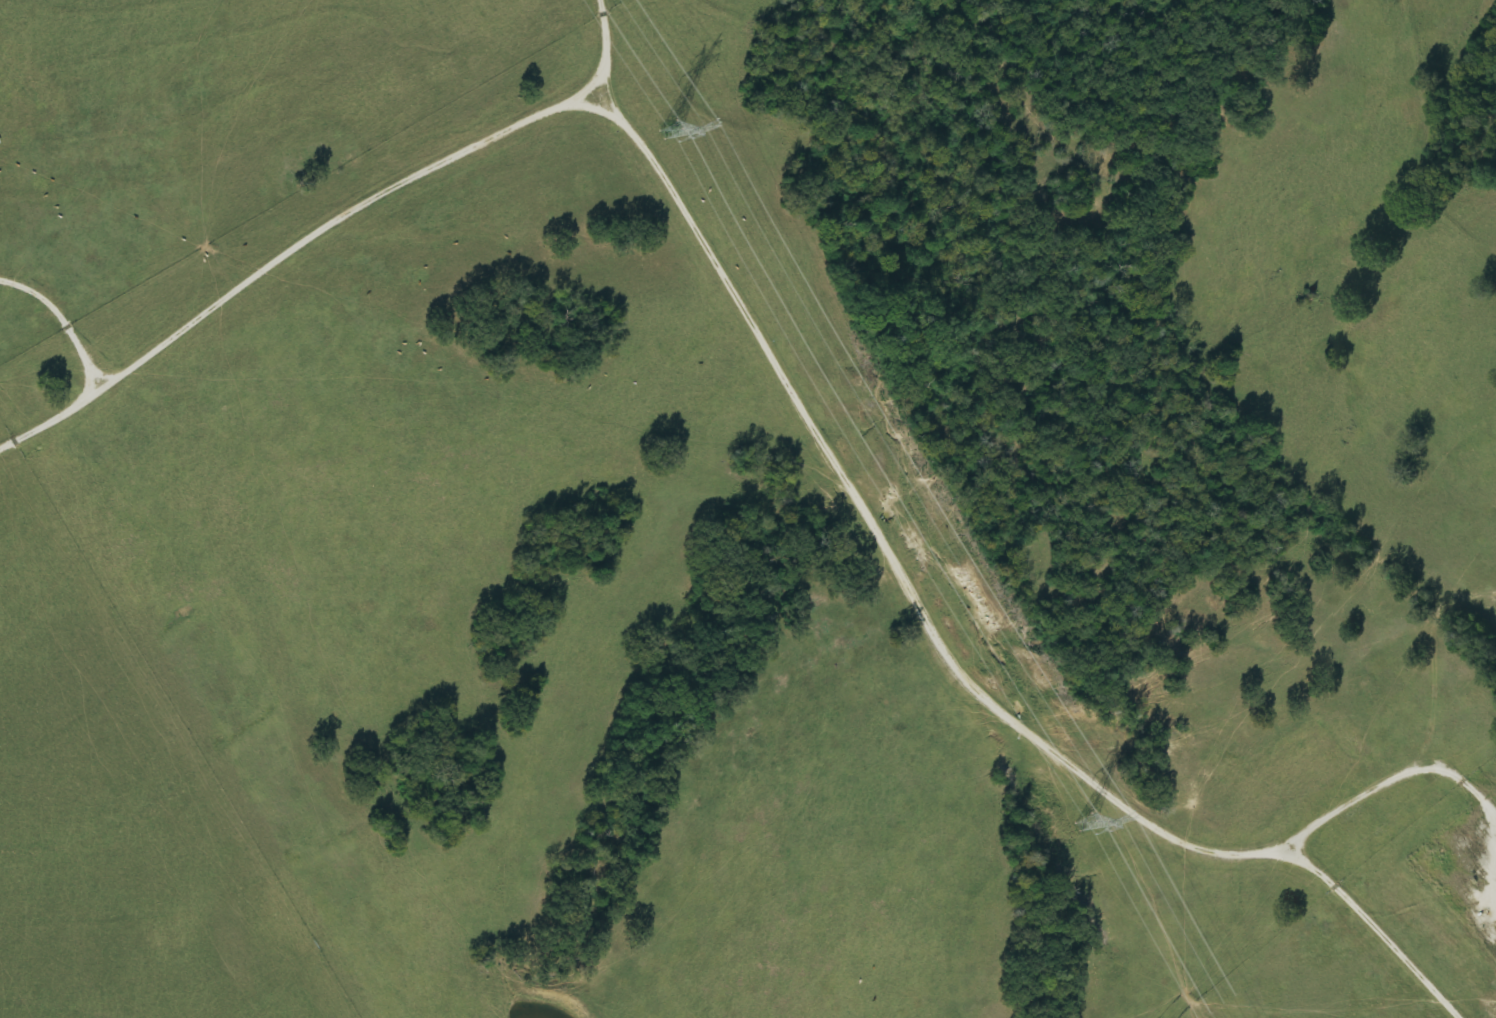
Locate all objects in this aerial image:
power tower: (668, 125)
power tower: (1083, 823)

